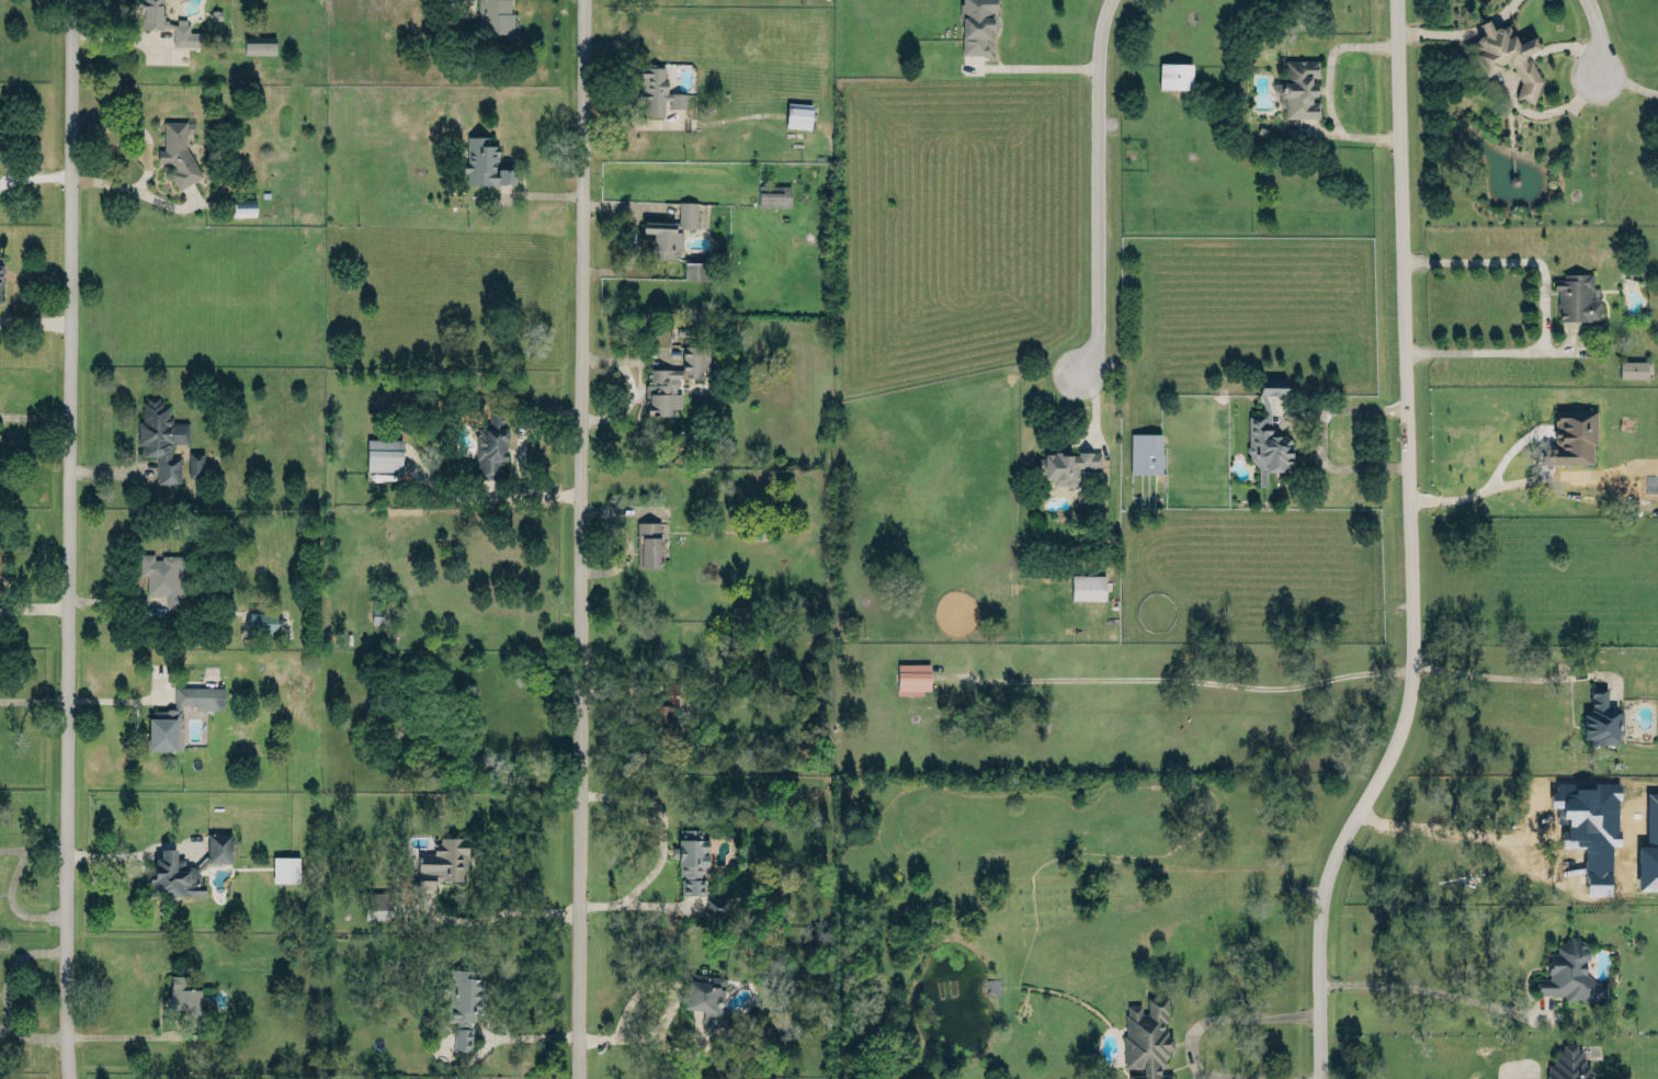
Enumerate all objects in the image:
building: (495, 15)
building: (166, 22)
building: (976, 24)
road: (1593, 34)
building: (258, 44)
building: (1489, 63)
road: (1029, 68)
building: (1174, 75)
road: (1627, 82)
building: (1299, 88)
building: (657, 89)
road: (1327, 90)
building: (798, 114)
building: (179, 148)
road: (145, 155)
building: (484, 160)
road: (34, 177)
road: (1090, 183)
building: (774, 194)
building: (243, 206)
building: (686, 213)
building: (662, 237)
building: (695, 269)
building: (0, 280)
building: (1576, 296)
road: (1544, 304)
building: (1633, 367)
building: (1272, 385)
building: (660, 389)
road: (521, 432)
road: (1318, 435)
building: (161, 436)
building: (1571, 436)
building: (1267, 443)
building: (490, 445)
building: (1145, 452)
building: (384, 453)
building: (195, 463)
building: (1067, 464)
road: (1486, 485)
road: (497, 497)
road: (71, 539)
road: (584, 539)
building: (647, 543)
road: (1411, 549)
building: (163, 576)
building: (1088, 586)
building: (384, 613)
building: (261, 622)
road: (1489, 675)
building: (912, 677)
road: (1181, 678)
road: (35, 698)
building: (180, 713)
building: (663, 713)
building: (1601, 716)
road: (1444, 827)
road: (667, 842)
road: (34, 845)
road: (133, 853)
building: (690, 857)
building: (443, 861)
building: (182, 867)
building: (285, 867)
road: (12, 902)
building: (378, 904)
building: (716, 905)
road: (489, 913)
building: (1570, 973)
road: (657, 983)
road: (1428, 989)
road: (8, 993)
building: (706, 997)
building: (184, 999)
building: (463, 1000)
road: (1195, 1027)
road: (123, 1033)
road: (647, 1036)
road: (499, 1037)
building: (1147, 1037)
building: (1569, 1064)

